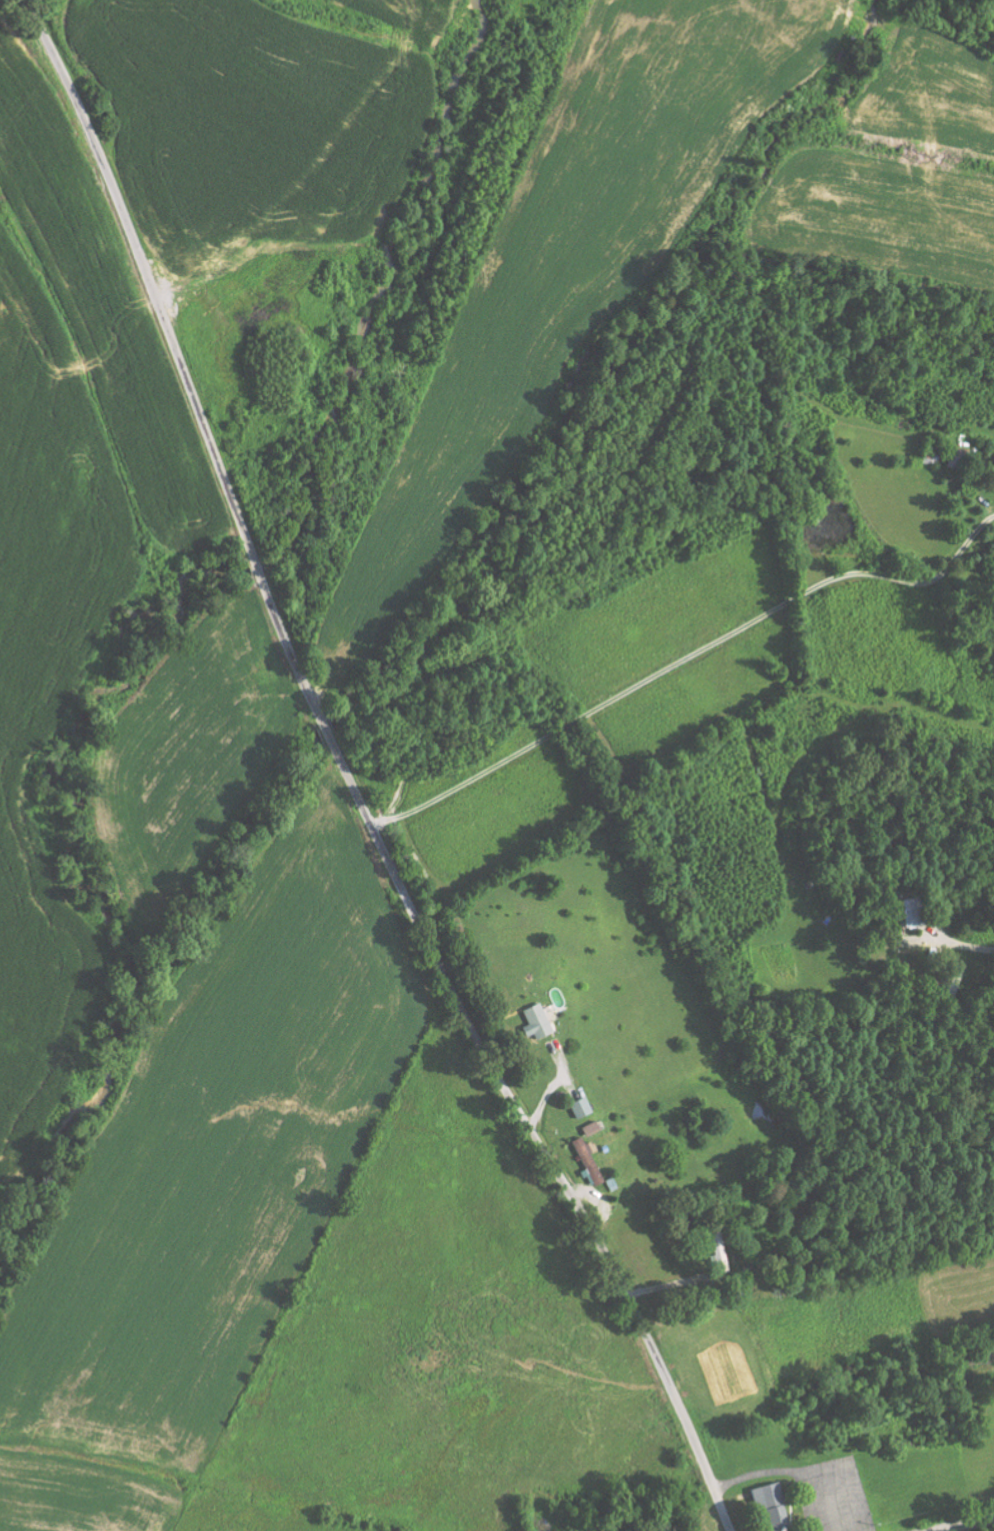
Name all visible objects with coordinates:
road: (346, 779)
building: (910, 911)
building: (534, 1020)
building: (578, 1106)
building: (588, 1127)
building: (586, 1161)
building: (770, 1503)
road: (939, 1518)

